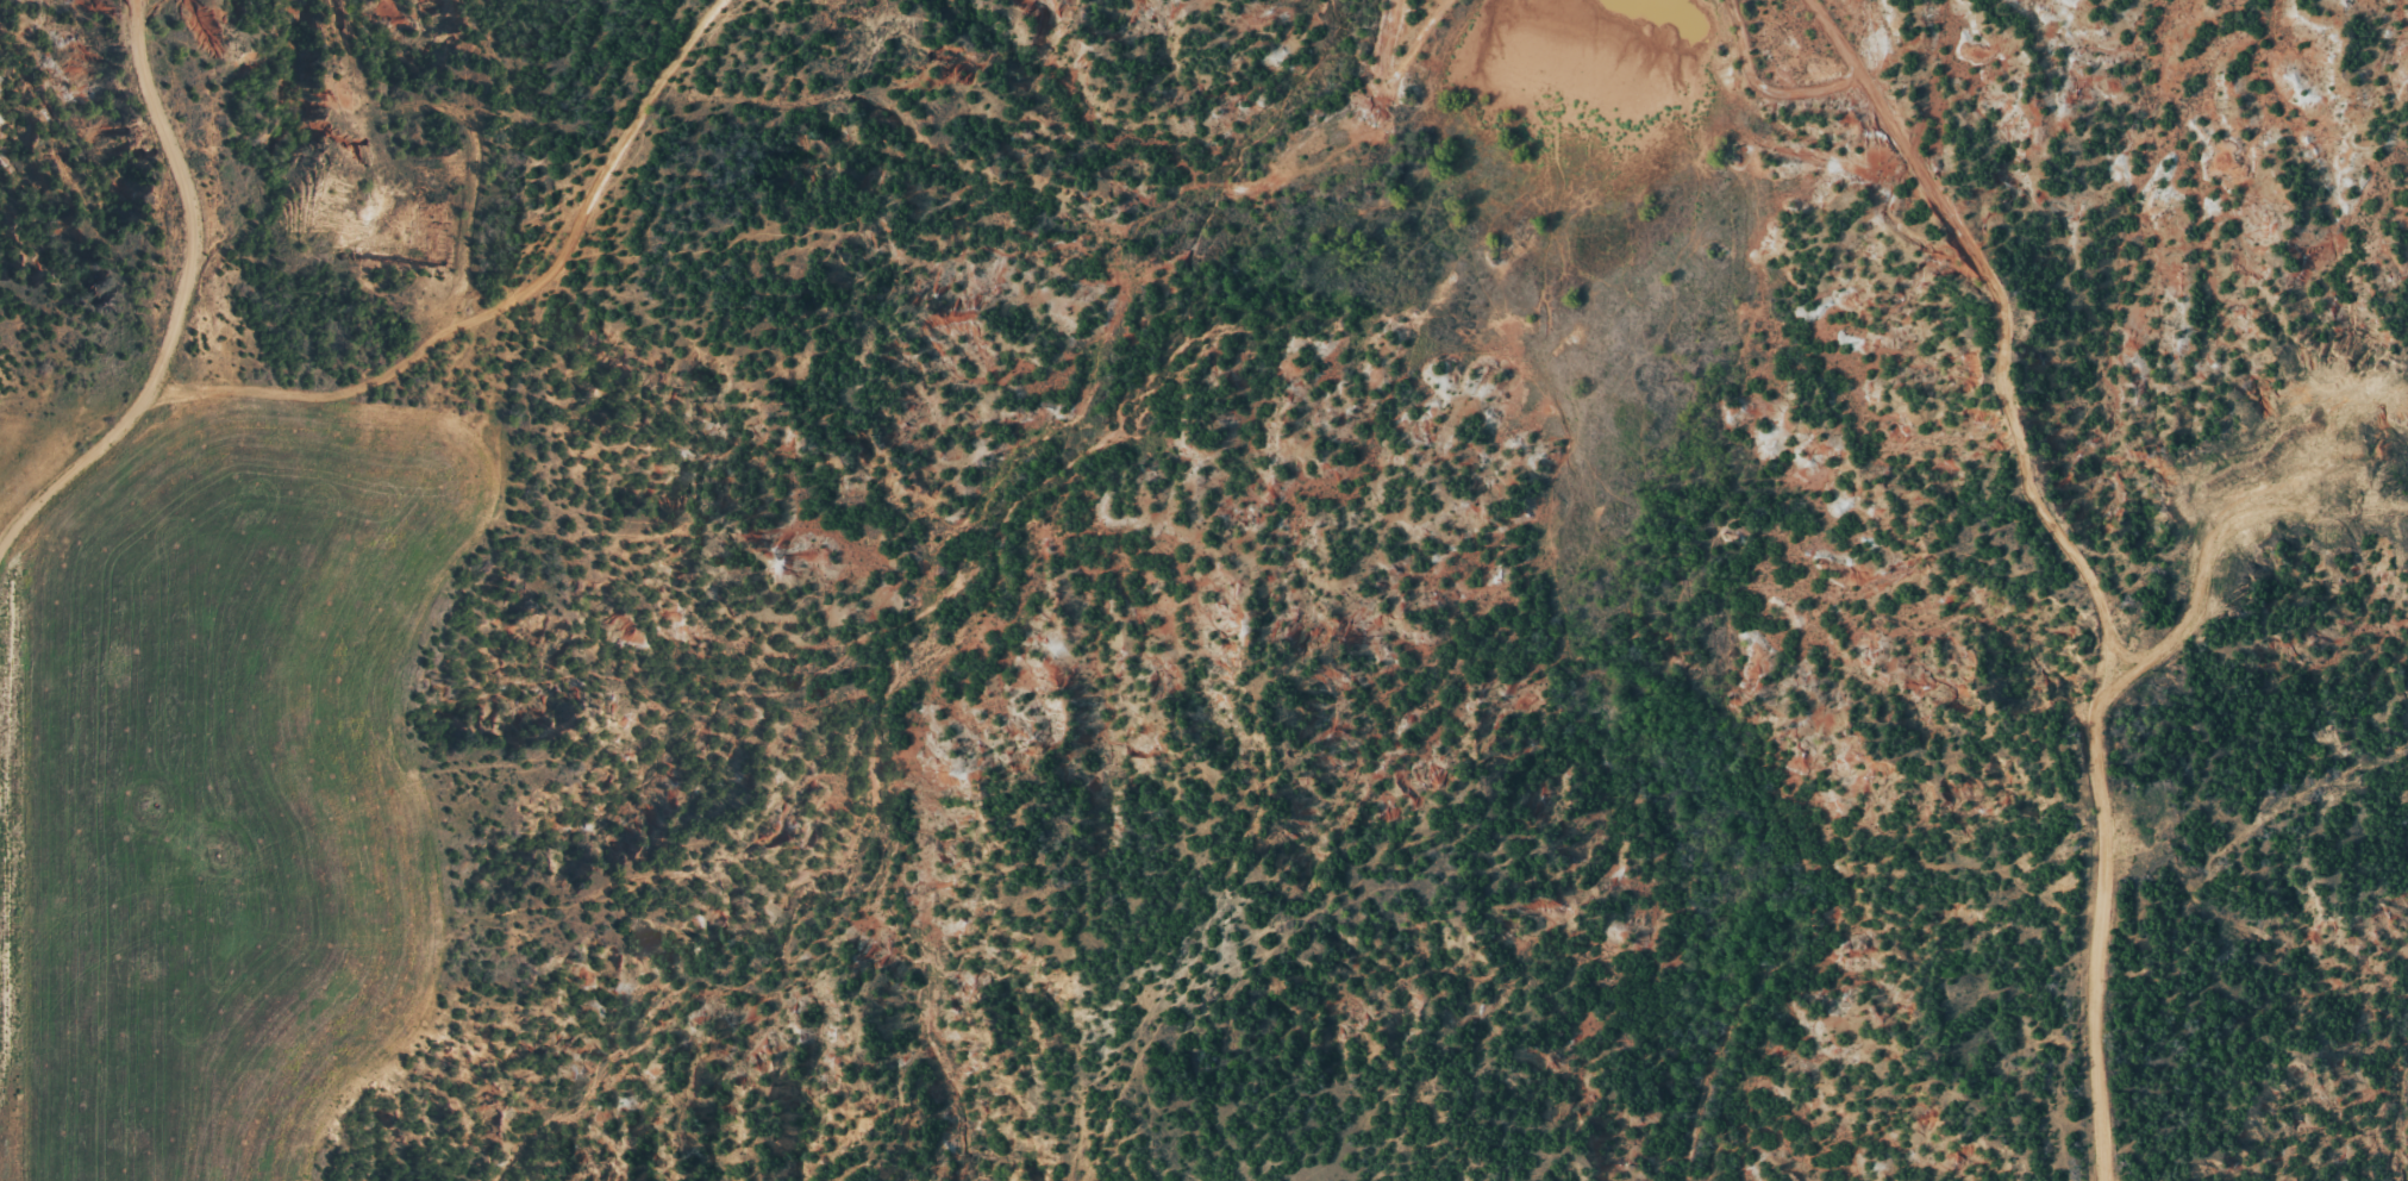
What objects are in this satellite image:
road: (186, 304)

